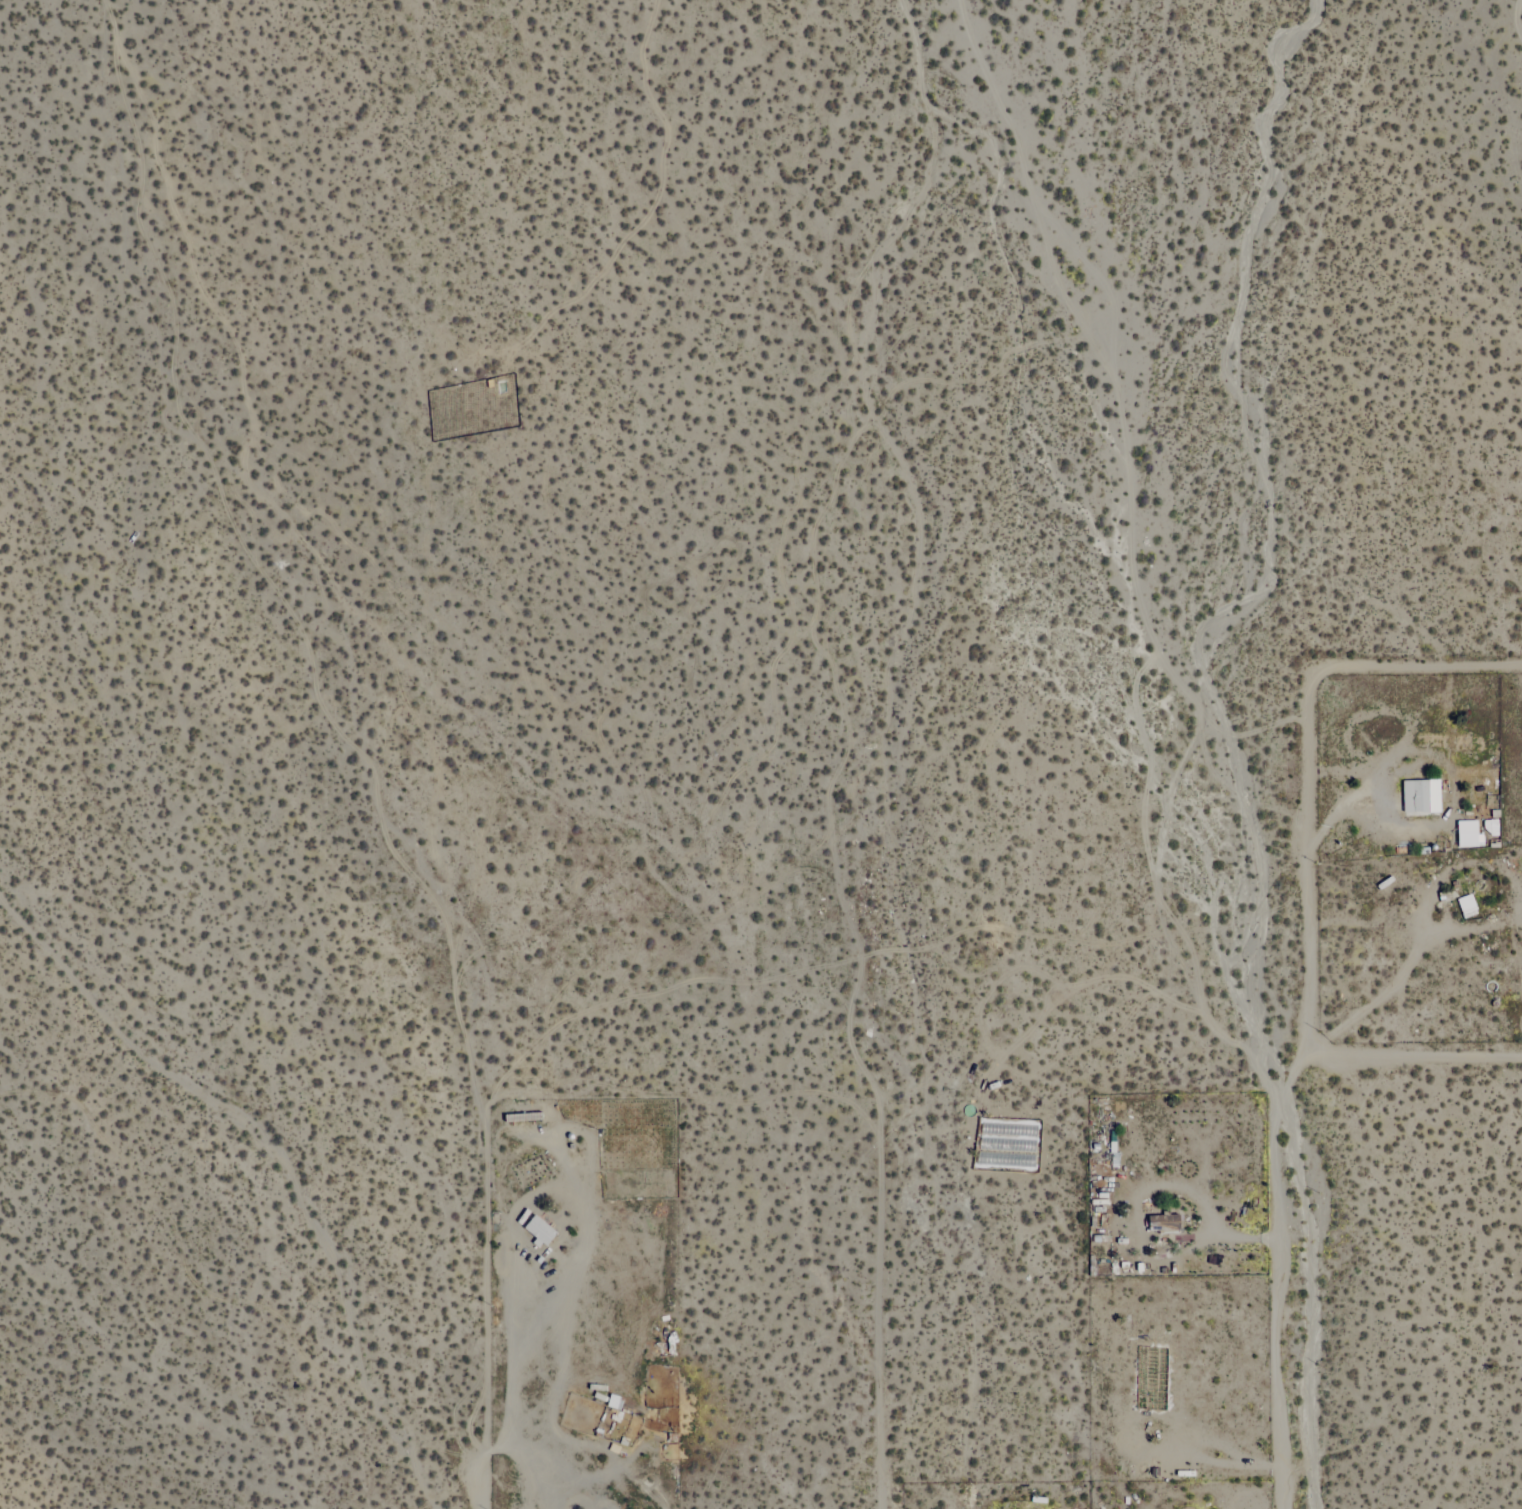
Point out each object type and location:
road: (1405, 965)
road: (1409, 1052)
road: (1284, 1087)
building: (1160, 1221)
building: (535, 1230)

